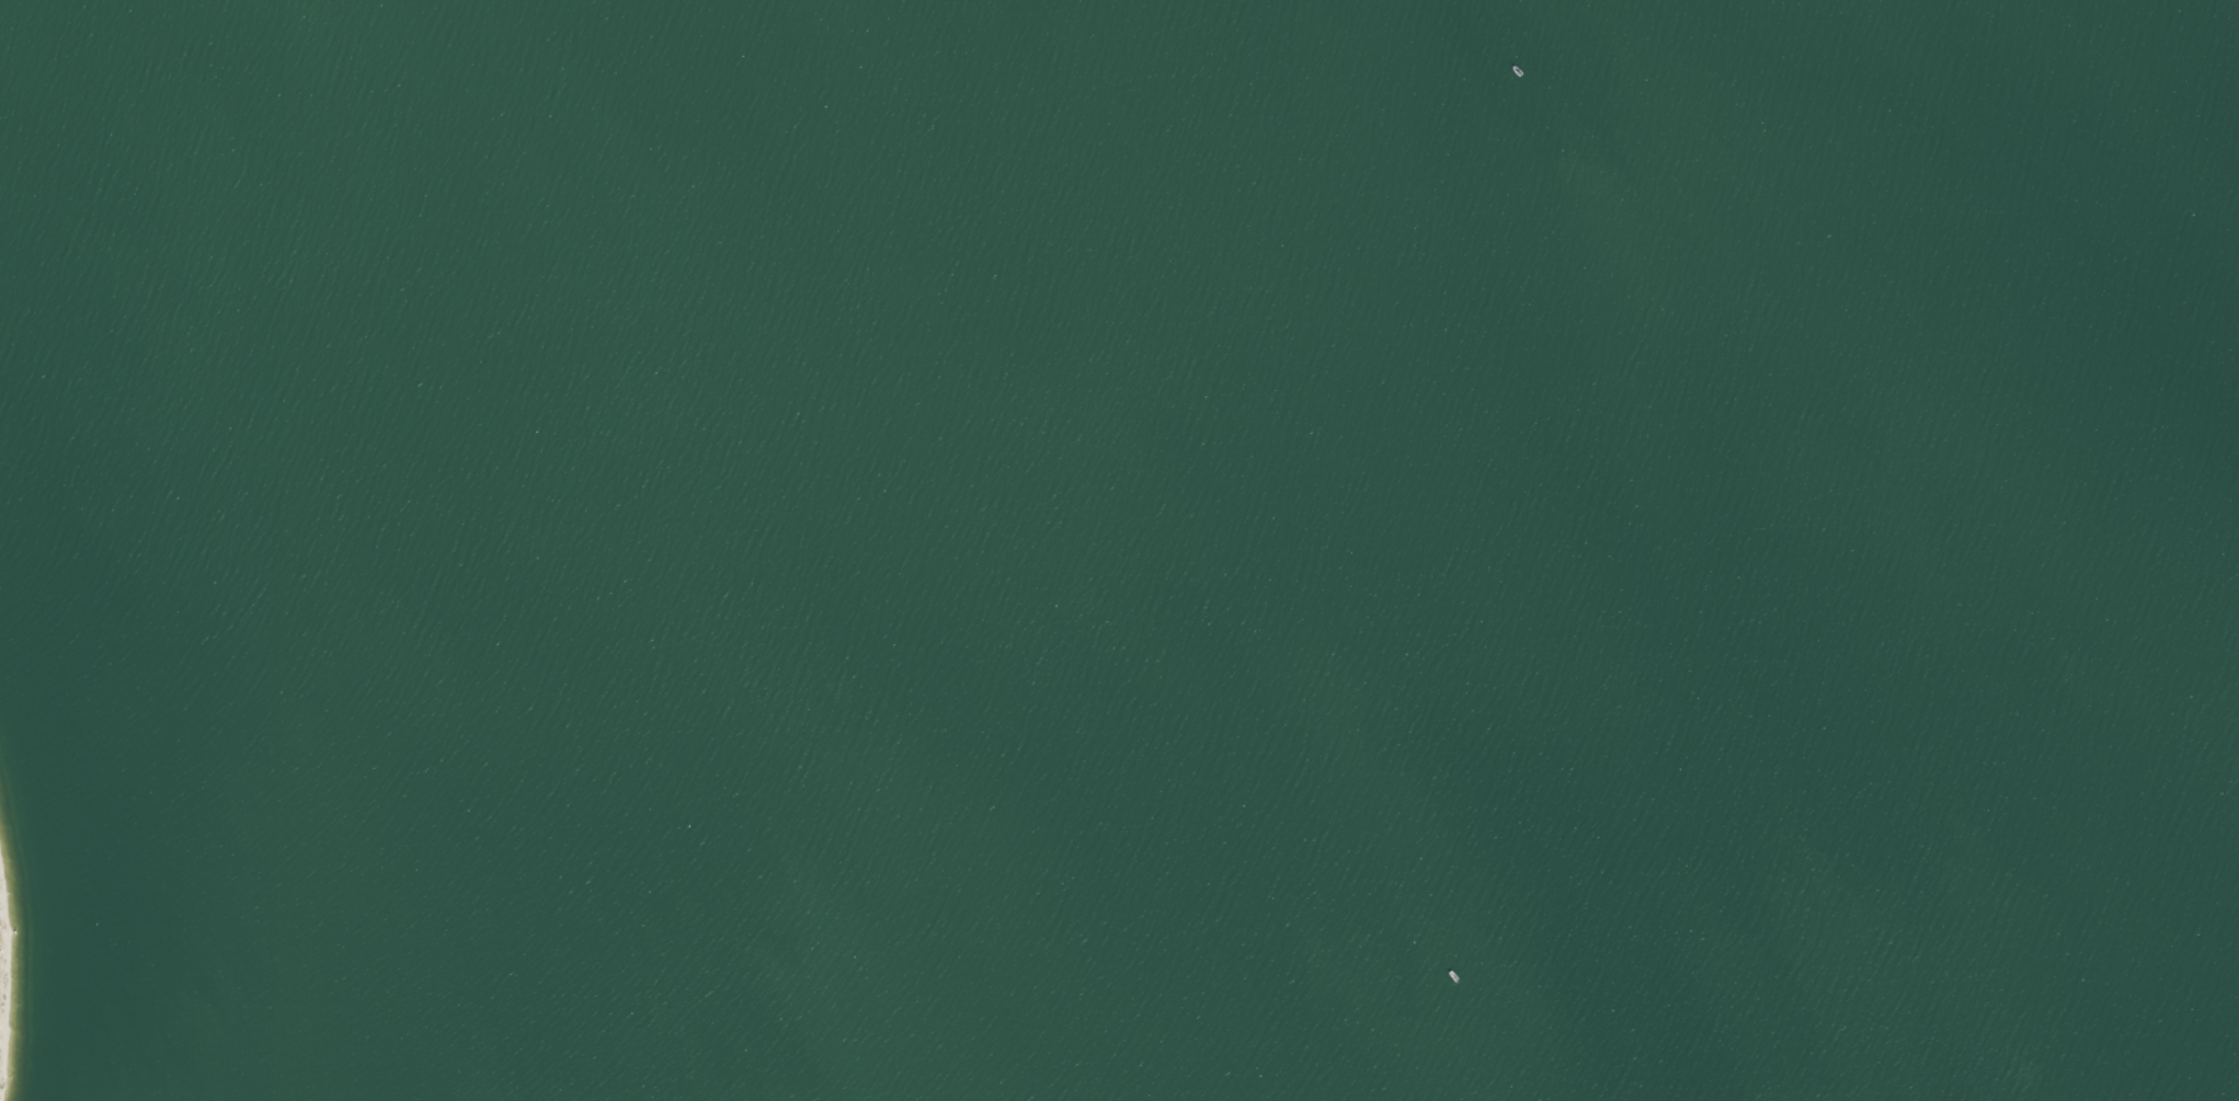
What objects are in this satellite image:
river: (773, 550)

